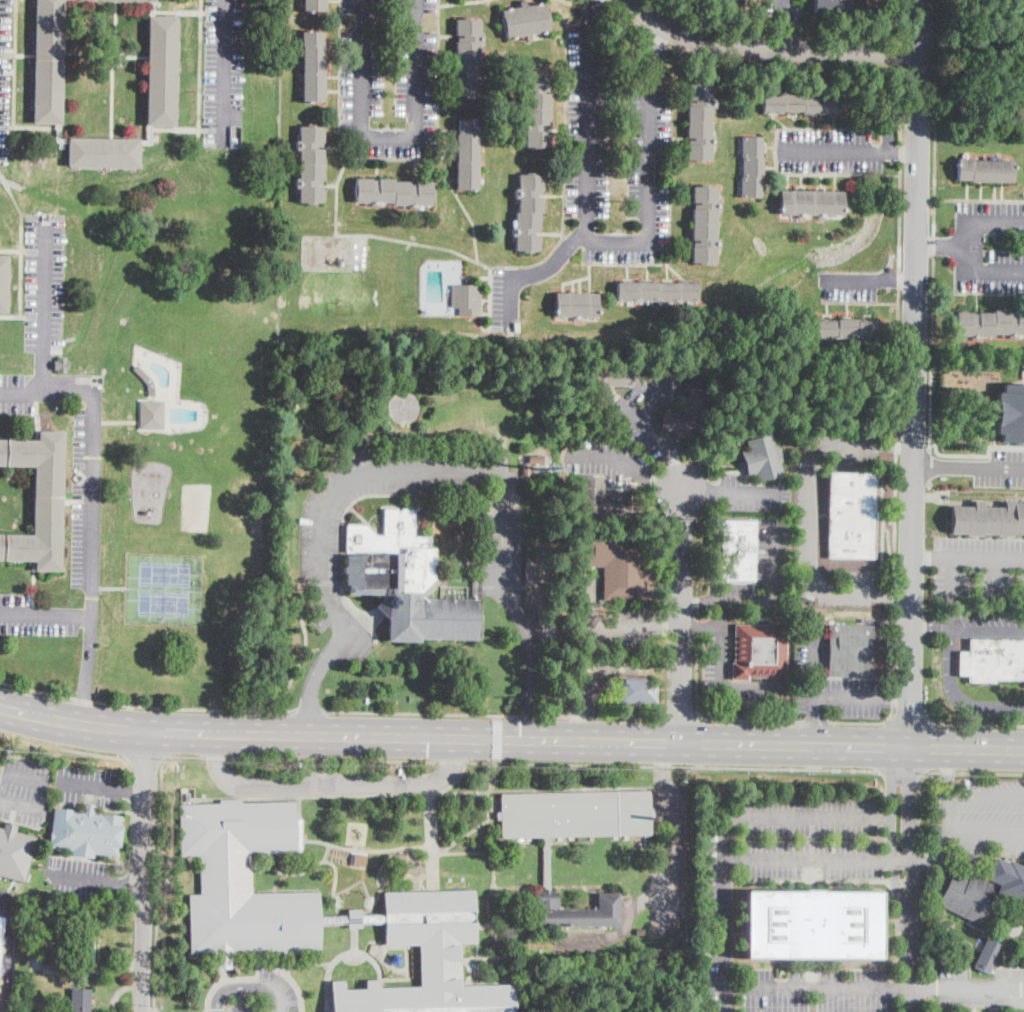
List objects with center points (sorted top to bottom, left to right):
building: (121, 0)
building: (725, 2)
building: (314, 5)
building: (831, 6)
road: (594, 12)
road: (903, 19)
building: (525, 21)
road: (783, 24)
road: (767, 49)
road: (655, 50)
road: (902, 54)
building: (469, 57)
building: (48, 62)
road: (14, 64)
road: (743, 66)
building: (313, 67)
road: (919, 70)
building: (161, 71)
parking lot: (223, 72)
road: (222, 73)
parking lot: (5, 78)
parking lot: (388, 79)
building: (803, 102)
building: (538, 108)
building: (699, 122)
road: (389, 136)
parking lot: (614, 148)
parking lot: (828, 151)
road: (830, 151)
building: (103, 153)
road: (900, 153)
building: (468, 155)
building: (311, 164)
building: (751, 167)
building: (984, 170)
building: (393, 192)
building: (810, 202)
building: (529, 213)
building: (705, 225)
road: (934, 225)
road: (592, 241)
road: (971, 245)
road: (944, 246)
parking lot: (990, 246)
road: (529, 273)
road: (868, 279)
parking lot: (45, 282)
building: (3, 283)
parking lot: (849, 285)
building: (658, 292)
parking lot: (505, 298)
building: (467, 299)
building: (576, 305)
building: (990, 323)
building: (847, 329)
road: (46, 333)
building: (61, 362)
road: (915, 372)
building: (146, 379)
building: (607, 381)
parking lot: (17, 393)
road: (896, 396)
parking lot: (658, 400)
building: (1011, 414)
building: (152, 415)
building: (687, 415)
road: (645, 418)
road: (977, 454)
building: (762, 456)
parking lot: (606, 458)
building: (535, 459)
road: (629, 465)
road: (968, 465)
road: (929, 466)
parking lot: (1001, 468)
road: (415, 470)
building: (526, 470)
building: (539, 478)
road: (929, 484)
road: (728, 493)
parking lot: (750, 494)
building: (37, 499)
parking lot: (80, 500)
building: (602, 502)
parking lot: (805, 515)
building: (851, 515)
road: (811, 517)
building: (985, 519)
road: (89, 526)
parking lot: (319, 541)
building: (736, 550)
road: (967, 560)
building: (621, 565)
parking lot: (761, 569)
parking lot: (977, 569)
road: (951, 579)
road: (995, 580)
building: (407, 583)
park: (163, 590)
road: (775, 595)
road: (696, 601)
parking lot: (36, 616)
road: (680, 616)
parking lot: (602, 619)
parking lot: (983, 622)
road: (967, 623)
road: (607, 627)
road: (699, 627)
building: (102, 640)
parking lot: (809, 646)
building: (760, 651)
building: (851, 651)
road: (587, 657)
parking lot: (715, 658)
building: (992, 660)
road: (300, 664)
road: (84, 668)
parking lot: (949, 673)
parking lot: (599, 675)
road: (696, 676)
road: (717, 685)
road: (36, 689)
building: (639, 690)
road: (956, 692)
road: (814, 693)
road: (83, 698)
road: (896, 699)
road: (193, 707)
road: (310, 712)
road: (421, 713)
road: (529, 716)
road: (601, 716)
road: (679, 717)
road: (749, 719)
road: (814, 721)
road: (816, 721)
road: (860, 722)
road: (909, 722)
road: (977, 724)
road: (222, 734)
traffic signals: (428, 737)
road: (497, 738)
traffic signals: (520, 739)
road: (735, 742)
road: (64, 747)
road: (214, 757)
road: (331, 759)
road: (143, 760)
road: (453, 761)
road: (661, 763)
road: (674, 765)
road: (446, 766)
road: (216, 768)
road: (902, 772)
road: (946, 773)
road: (974, 773)
road: (16, 776)
road: (453, 782)
parking lot: (332, 783)
parking lot: (87, 784)
road: (91, 785)
road: (334, 788)
road: (132, 789)
parking lot: (24, 790)
road: (450, 793)
road: (651, 797)
road: (985, 801)
road: (22, 805)
road: (918, 811)
road: (809, 817)
parking lot: (981, 817)
road: (299, 818)
road: (945, 818)
road: (484, 822)
road: (910, 828)
road: (890, 829)
building: (85, 832)
road: (985, 833)
road: (431, 840)
road: (355, 846)
road: (365, 849)
road: (326, 852)
building: (14, 853)
road: (933, 855)
road: (669, 858)
road: (818, 859)
road: (158, 862)
building: (547, 865)
parking lot: (664, 867)
road: (140, 871)
road: (80, 878)
parking lot: (81, 878)
road: (125, 884)
road: (564, 885)
building: (982, 889)
road: (6, 894)
parking lot: (5, 900)
building: (254, 902)
road: (338, 909)
road: (626, 913)
road: (726, 914)
parking lot: (719, 924)
building: (811, 925)
road: (483, 926)
building: (1, 932)
road: (354, 932)
building: (641, 933)
parking lot: (569, 943)
building: (78, 947)
road: (500, 951)
road: (572, 951)
road: (8, 953)
road: (341, 955)
building: (988, 956)
road: (908, 962)
road: (284, 963)
road: (117, 964)
road: (227, 978)
road: (388, 978)
road: (293, 979)
road: (249, 986)
parking lot: (280, 986)
parking lot: (977, 987)
road: (817, 988)
road: (920, 989)
road: (977, 989)
road: (120, 993)
building: (80, 1000)
parking lot: (244, 1007)
road: (228, 1008)
road: (152, 1009)
road: (155, 1009)

